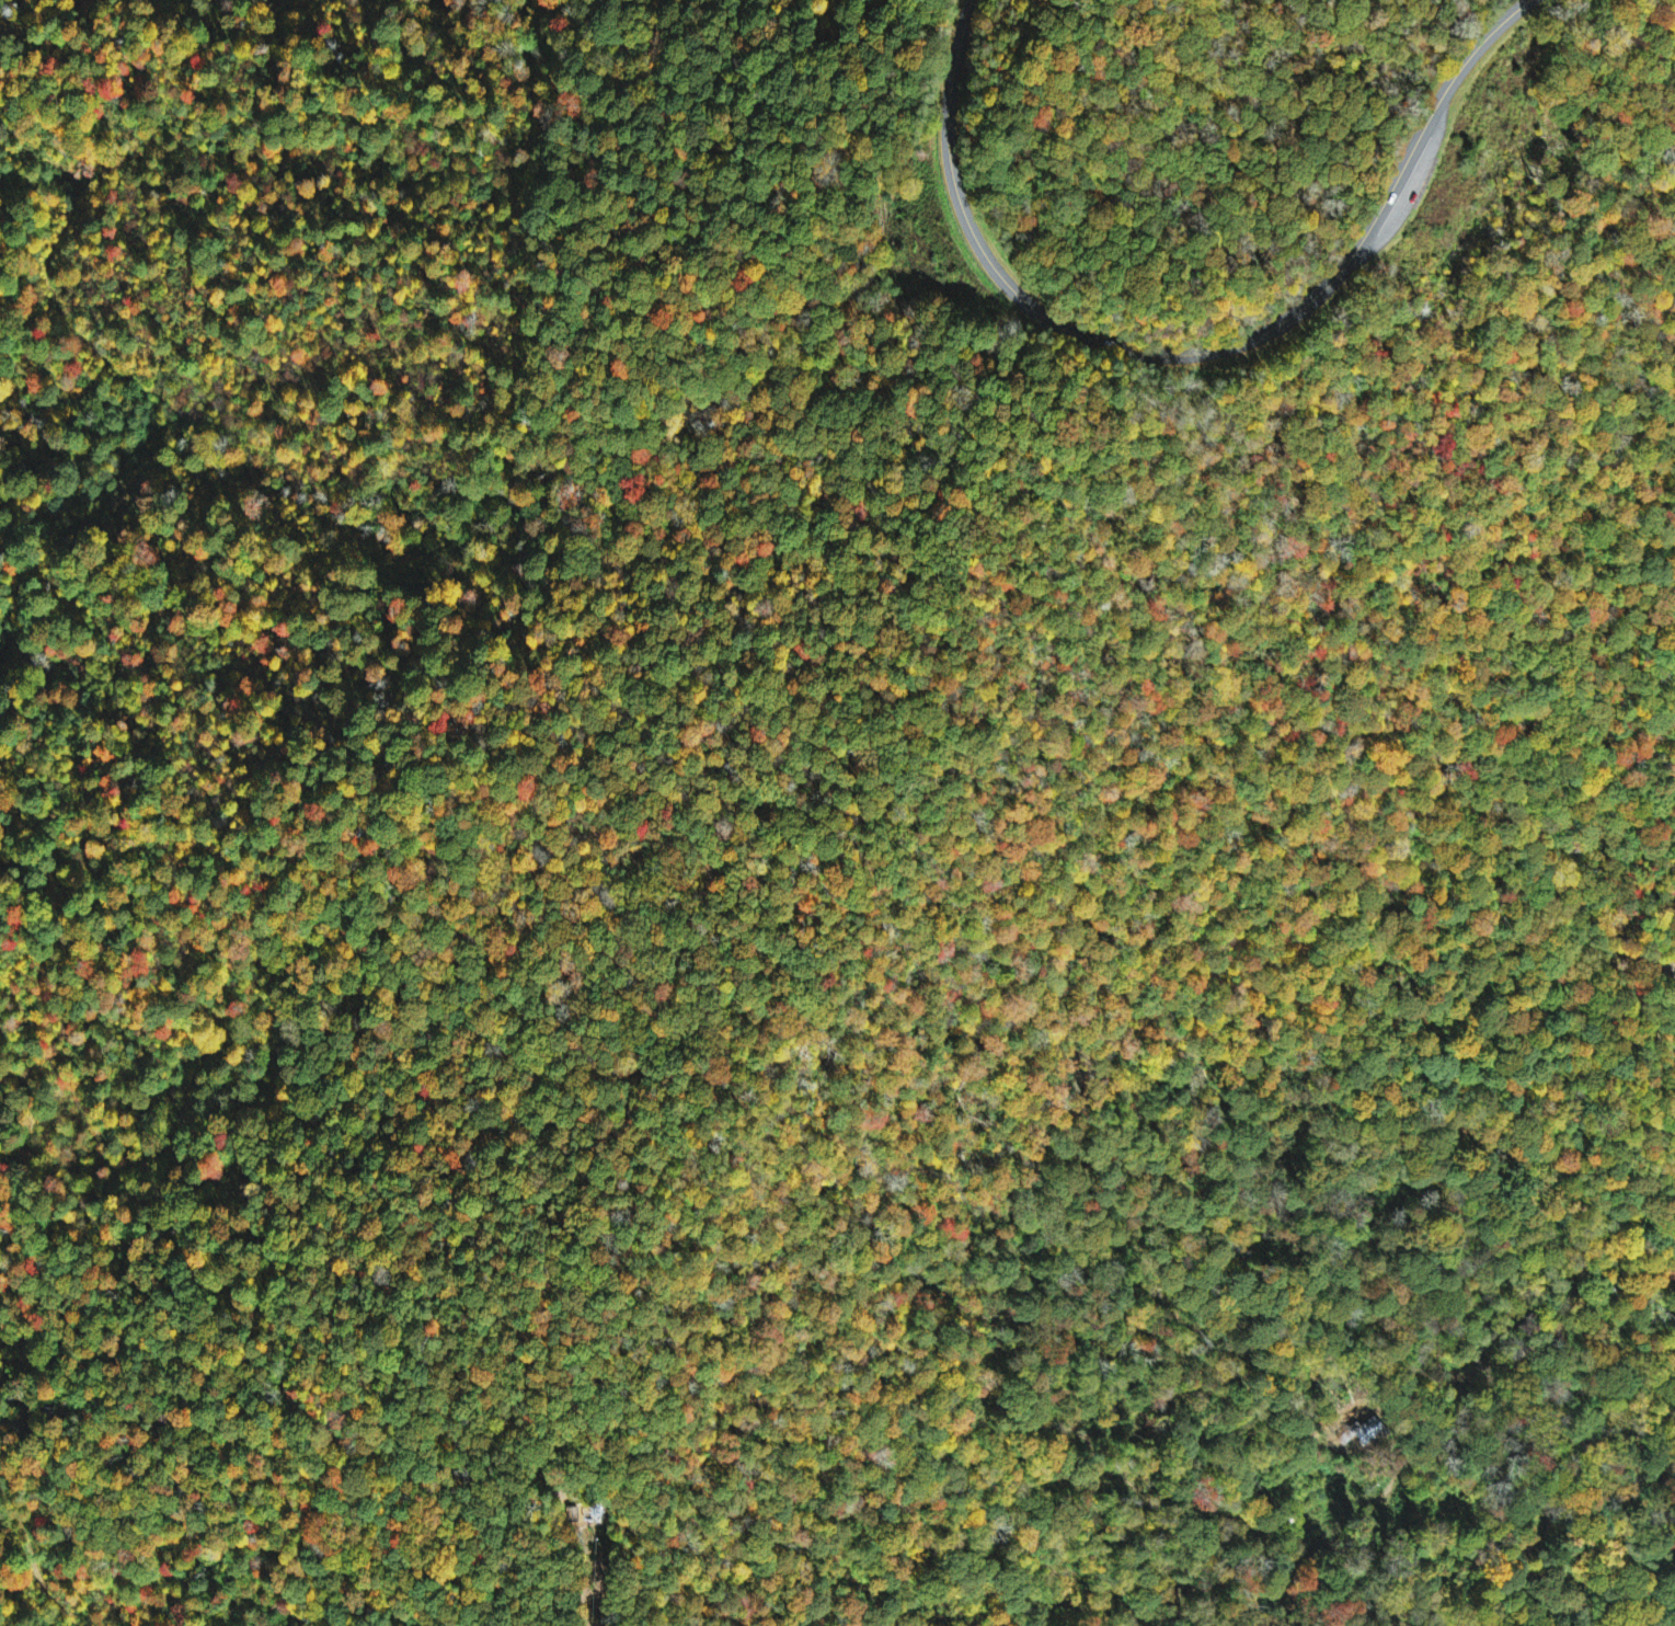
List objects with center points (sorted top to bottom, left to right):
road: (1446, 126)
road: (1117, 131)
road: (1411, 188)
parking lot: (1408, 190)
road: (1192, 353)
road: (1637, 1001)
road: (1481, 1351)
road: (403, 1619)

